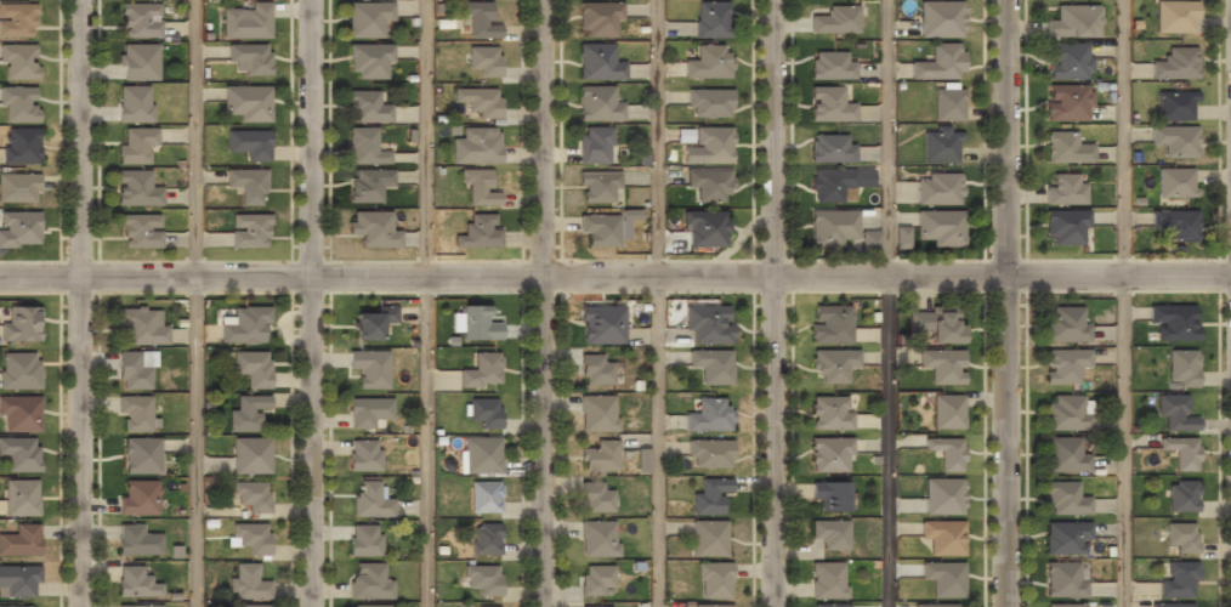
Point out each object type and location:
building: (1175, 17)
building: (368, 18)
building: (940, 18)
building: (477, 19)
building: (599, 19)
building: (711, 19)
building: (141, 21)
building: (245, 21)
building: (835, 21)
building: (17, 22)
building: (1073, 22)
building: (249, 58)
building: (369, 59)
building: (484, 61)
building: (138, 62)
building: (1067, 62)
building: (18, 63)
building: (599, 63)
building: (708, 63)
building: (940, 63)
building: (830, 64)
building: (1175, 66)
building: (477, 102)
building: (248, 103)
building: (18, 104)
building: (135, 104)
building: (597, 104)
building: (709, 104)
building: (947, 104)
building: (1067, 104)
building: (829, 106)
building: (1174, 106)
building: (365, 107)
road: (194, 136)
road: (424, 136)
road: (654, 136)
building: (1174, 141)
building: (249, 143)
building: (136, 146)
building: (364, 146)
building: (595, 146)
building: (713, 146)
building: (19, 147)
building: (476, 147)
building: (940, 147)
building: (830, 148)
building: (1066, 149)
building: (1174, 183)
building: (246, 185)
building: (368, 185)
building: (830, 185)
building: (709, 186)
building: (599, 187)
building: (18, 188)
building: (136, 189)
building: (478, 189)
building: (1065, 189)
building: (937, 191)
building: (1175, 226)
building: (832, 228)
building: (940, 228)
building: (1063, 228)
building: (249, 229)
building: (373, 229)
building: (705, 229)
building: (19, 231)
building: (601, 231)
building: (141, 232)
building: (478, 233)
building: (901, 237)
building: (870, 243)
road: (615, 272)
road: (84, 302)
road: (317, 302)
road: (548, 302)
road: (1124, 302)
road: (782, 303)
road: (889, 303)
road: (1010, 303)
building: (1173, 320)
building: (373, 322)
building: (19, 324)
building: (246, 324)
building: (472, 324)
building: (935, 324)
building: (602, 325)
building: (707, 325)
building: (830, 325)
building: (1065, 325)
building: (142, 328)
building: (832, 364)
building: (942, 365)
building: (711, 367)
building: (1063, 367)
building: (251, 368)
building: (369, 368)
building: (1181, 368)
building: (595, 369)
building: (482, 370)
building: (19, 371)
building: (132, 371)
building: (367, 410)
building: (947, 410)
building: (136, 413)
building: (246, 413)
building: (482, 413)
building: (597, 413)
building: (1174, 413)
building: (21, 414)
building: (829, 414)
building: (1065, 414)
building: (708, 416)
road: (194, 439)
road: (424, 439)
road: (656, 439)
building: (947, 452)
building: (1181, 452)
building: (19, 454)
building: (709, 454)
building: (141, 455)
building: (251, 455)
building: (364, 455)
building: (829, 455)
building: (1063, 455)
building: (481, 456)
building: (600, 456)
building: (639, 460)
building: (251, 495)
building: (828, 495)
building: (138, 497)
building: (709, 497)
building: (943, 497)
building: (1181, 497)
building: (21, 498)
building: (484, 498)
building: (596, 498)
building: (1065, 499)
building: (371, 500)
building: (830, 533)
building: (250, 538)
building: (942, 538)
building: (1066, 538)
building: (1180, 538)
building: (596, 539)
building: (708, 539)
building: (364, 540)
building: (486, 540)
building: (21, 541)
building: (137, 541)
building: (943, 579)
building: (1065, 579)
building: (482, 580)
building: (828, 580)
building: (1178, 580)
building: (18, 582)
building: (368, 582)
building: (596, 582)
building: (714, 582)
building: (135, 583)
building: (248, 584)
building: (829, 605)
building: (1065, 605)
building: (1172, 605)
building: (25, 606)
building: (131, 606)
building: (249, 606)
building: (359, 606)
building: (584, 606)
building: (711, 606)
building: (947, 606)

